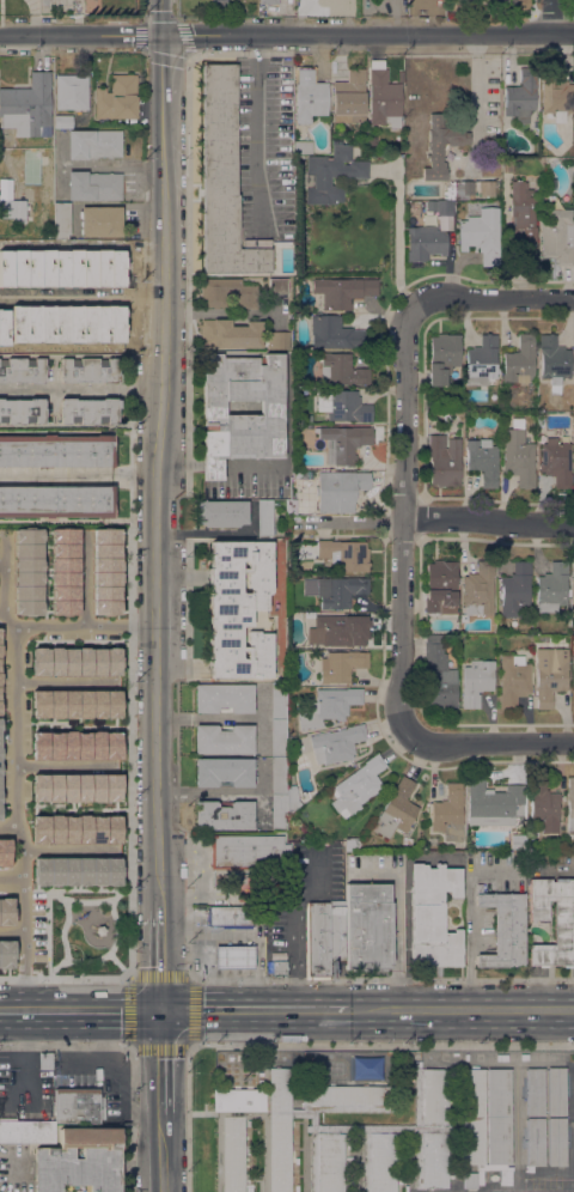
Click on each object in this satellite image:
building: (268, 1)
building: (503, 2)
road: (551, 16)
road: (161, 17)
road: (181, 26)
traffic signals: (163, 34)
road: (286, 34)
road: (163, 63)
building: (399, 75)
building: (71, 92)
building: (552, 93)
building: (309, 96)
building: (383, 96)
building: (520, 96)
building: (349, 97)
building: (117, 98)
building: (28, 104)
building: (61, 121)
road: (256, 130)
building: (364, 130)
building: (93, 144)
building: (440, 146)
building: (303, 147)
road: (2, 159)
road: (110, 165)
building: (507, 165)
building: (332, 174)
building: (224, 181)
building: (93, 186)
building: (466, 189)
building: (12, 208)
building: (444, 208)
building: (61, 220)
building: (99, 220)
building: (523, 223)
building: (481, 235)
road: (398, 236)
building: (557, 236)
building: (425, 242)
building: (277, 285)
building: (343, 291)
building: (227, 293)
road: (83, 296)
road: (493, 299)
road: (222, 311)
building: (334, 333)
building: (231, 334)
building: (277, 340)
building: (442, 358)
building: (482, 360)
building: (554, 360)
building: (519, 361)
building: (341, 370)
building: (23, 371)
building: (88, 371)
road: (81, 391)
building: (343, 406)
building: (22, 410)
building: (87, 410)
building: (243, 420)
building: (299, 430)
building: (343, 443)
building: (56, 451)
building: (518, 455)
building: (444, 460)
building: (482, 461)
building: (556, 462)
road: (78, 474)
building: (338, 489)
building: (56, 501)
road: (155, 501)
building: (300, 507)
building: (221, 512)
building: (264, 517)
building: (276, 518)
road: (490, 521)
road: (349, 522)
road: (408, 522)
road: (203, 533)
building: (343, 554)
road: (2, 564)
building: (28, 570)
building: (105, 571)
building: (66, 572)
road: (86, 578)
building: (573, 580)
building: (440, 585)
building: (552, 588)
building: (478, 589)
building: (515, 589)
building: (338, 591)
building: (239, 609)
road: (77, 624)
building: (336, 630)
building: (74, 661)
building: (0, 665)
building: (341, 665)
building: (550, 674)
building: (438, 675)
road: (66, 680)
building: (513, 680)
building: (476, 682)
building: (224, 698)
building: (279, 701)
building: (573, 701)
building: (73, 703)
building: (329, 706)
building: (279, 737)
building: (224, 740)
building: (336, 743)
building: (75, 744)
road: (489, 744)
road: (67, 766)
road: (18, 771)
building: (224, 771)
building: (279, 777)
building: (0, 786)
building: (356, 786)
building: (74, 789)
building: (291, 798)
building: (493, 803)
building: (570, 804)
building: (543, 807)
building: (397, 809)
building: (277, 813)
building: (448, 814)
building: (224, 815)
building: (74, 828)
building: (407, 840)
building: (517, 841)
building: (352, 844)
road: (71, 850)
building: (5, 851)
building: (249, 852)
building: (77, 870)
road: (13, 877)
building: (478, 888)
building: (7, 912)
building: (433, 916)
building: (230, 917)
road: (469, 922)
building: (367, 926)
road: (397, 928)
building: (503, 930)
park: (87, 931)
road: (13, 932)
building: (563, 932)
building: (337, 933)
building: (317, 939)
building: (7, 953)
building: (234, 956)
road: (163, 960)
road: (294, 962)
building: (279, 968)
road: (189, 977)
traffic signals: (161, 1010)
road: (254, 1010)
road: (459, 1010)
road: (80, 1011)
road: (105, 1038)
building: (45, 1060)
road: (75, 1060)
road: (163, 1062)
road: (126, 1089)
building: (535, 1091)
building: (556, 1091)
building: (347, 1099)
building: (75, 1106)
building: (471, 1115)
building: (499, 1115)
building: (452, 1120)
building: (348, 1125)
building: (430, 1127)
building: (26, 1132)
building: (452, 1135)
building: (535, 1142)
building: (556, 1142)
road: (163, 1153)
building: (276, 1155)
building: (79, 1161)
building: (326, 1162)
building: (379, 1162)
building: (470, 1180)

